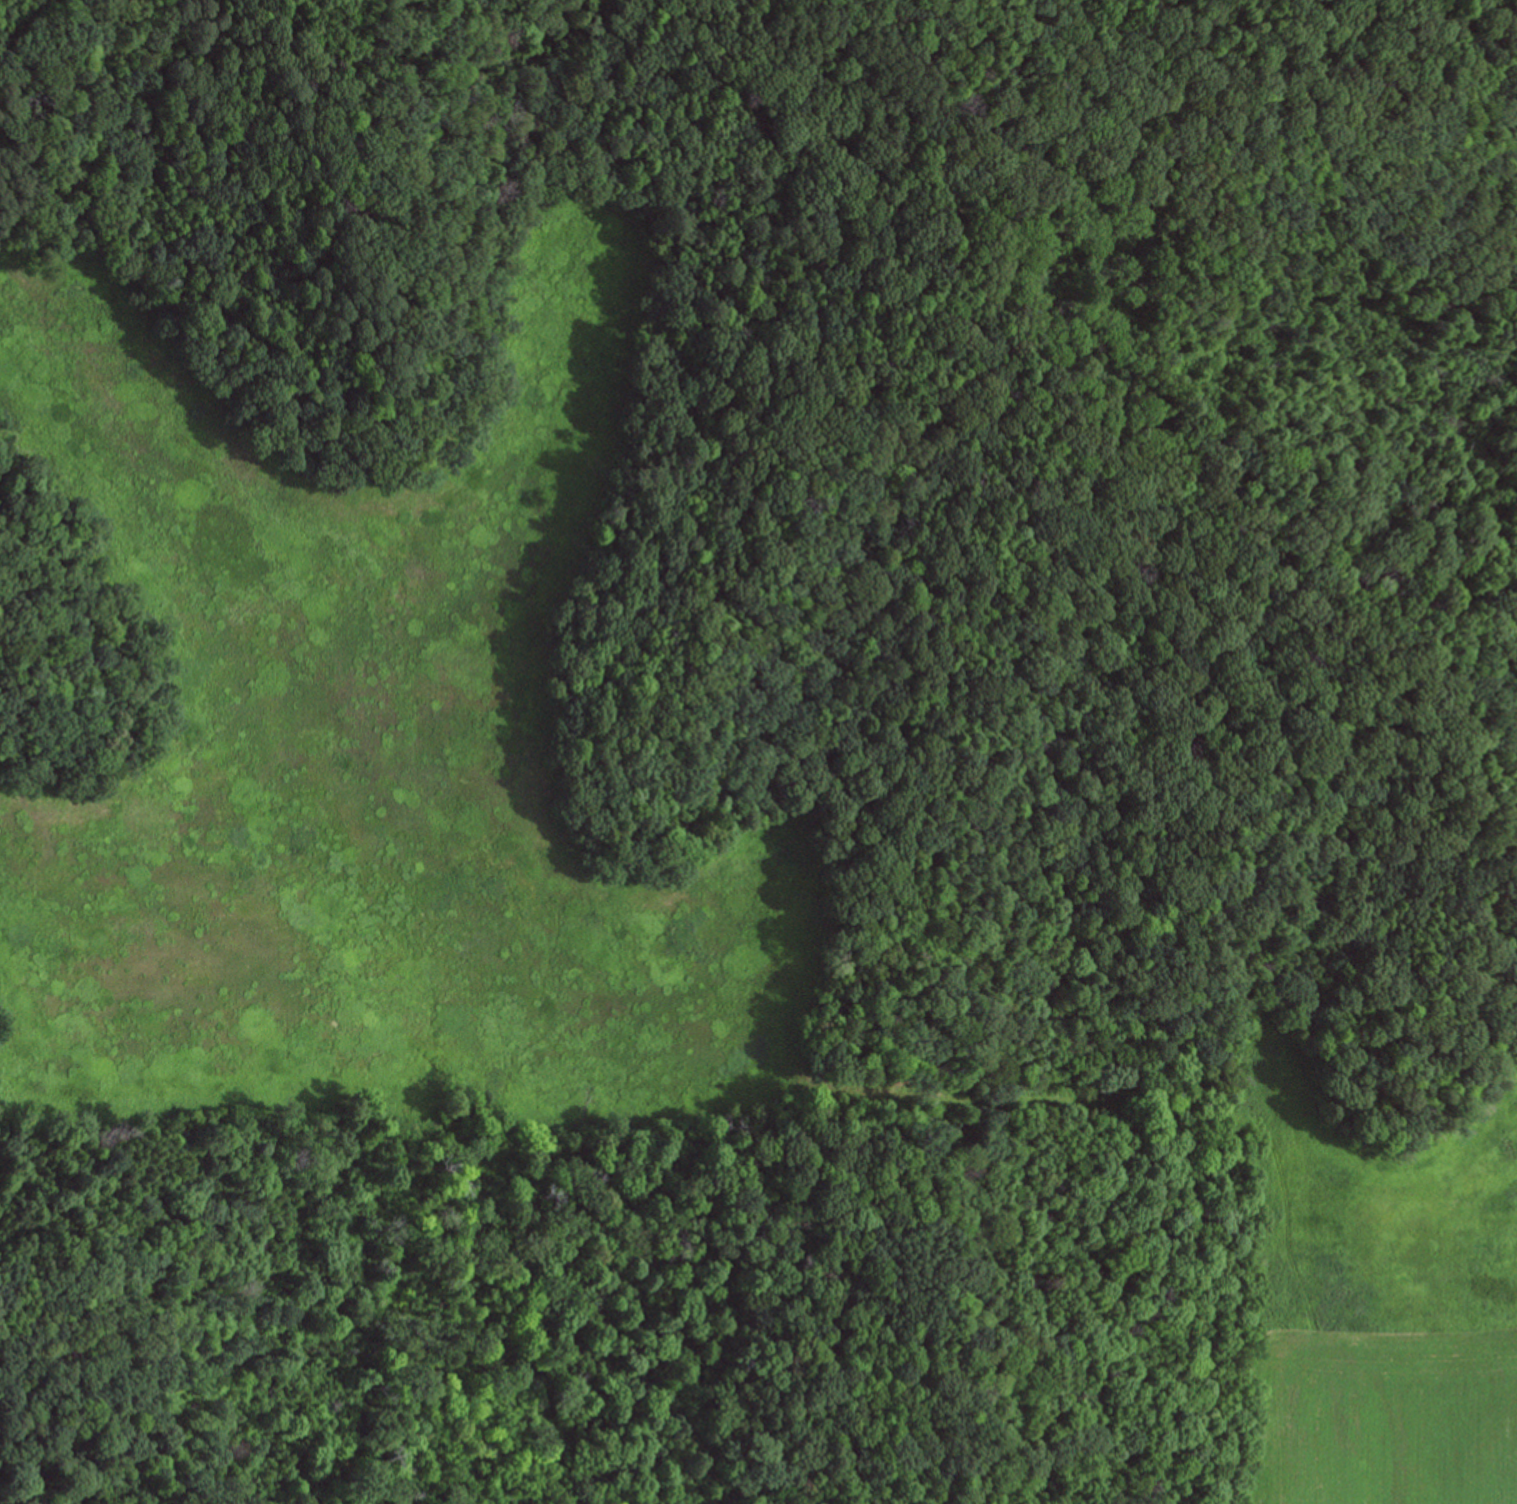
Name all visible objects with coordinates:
crop: (1381, 1419)

